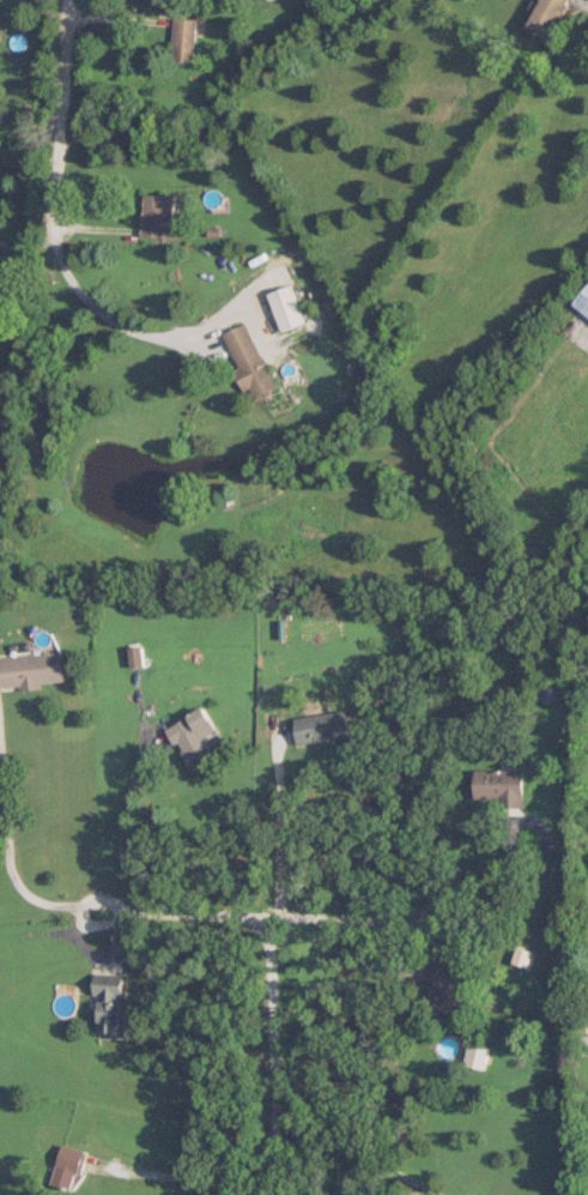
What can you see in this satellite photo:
building: (540, 17)
building: (182, 40)
road: (53, 211)
building: (157, 216)
building: (2, 266)
building: (582, 303)
building: (285, 308)
building: (247, 360)
building: (31, 670)
building: (545, 692)
building: (316, 726)
building: (188, 736)
building: (496, 784)
road: (121, 825)
road: (281, 826)
road: (14, 875)
road: (480, 901)
road: (254, 916)
building: (443, 985)
building: (105, 1003)
building: (473, 1055)
road: (274, 1056)
road: (359, 1153)
building: (63, 1166)
road: (182, 1177)

